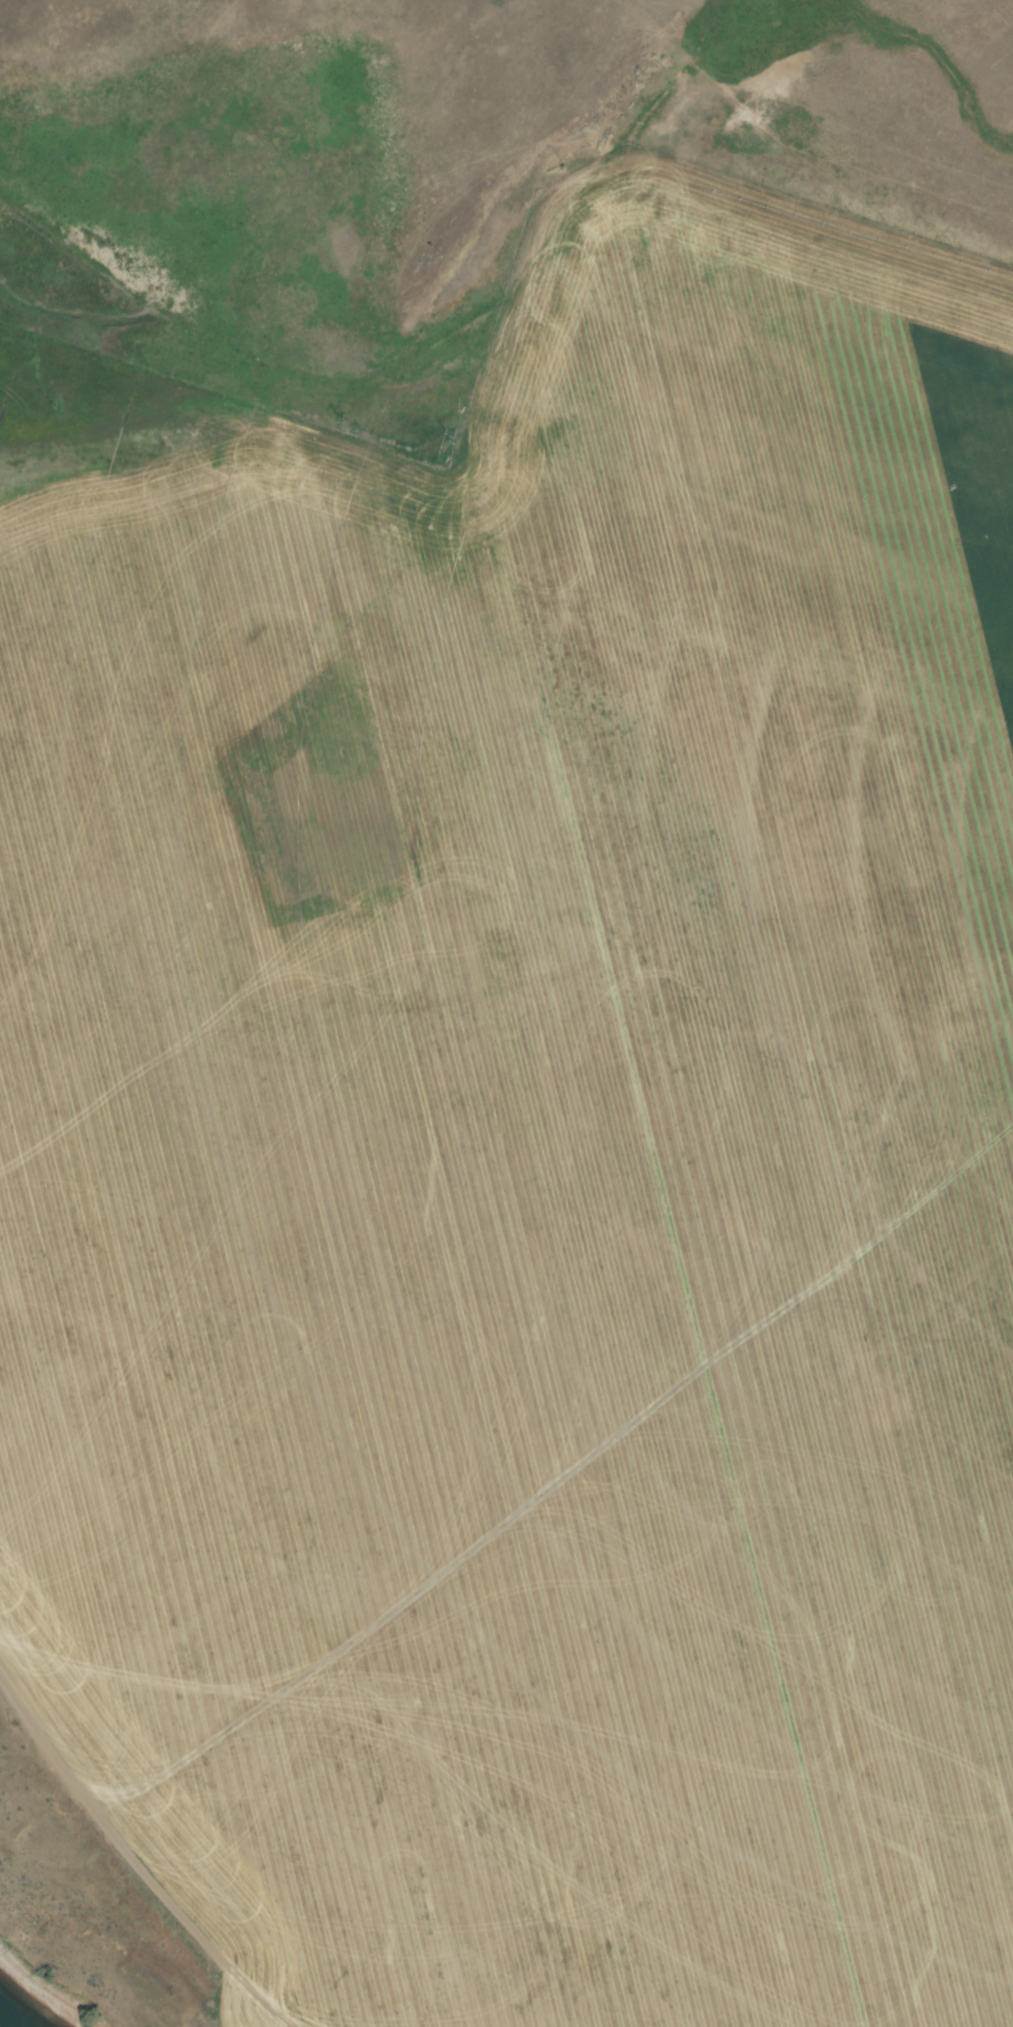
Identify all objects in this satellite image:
road: (819, 160)
road: (615, 1036)
crop: (529, 1143)
road: (136, 1837)

